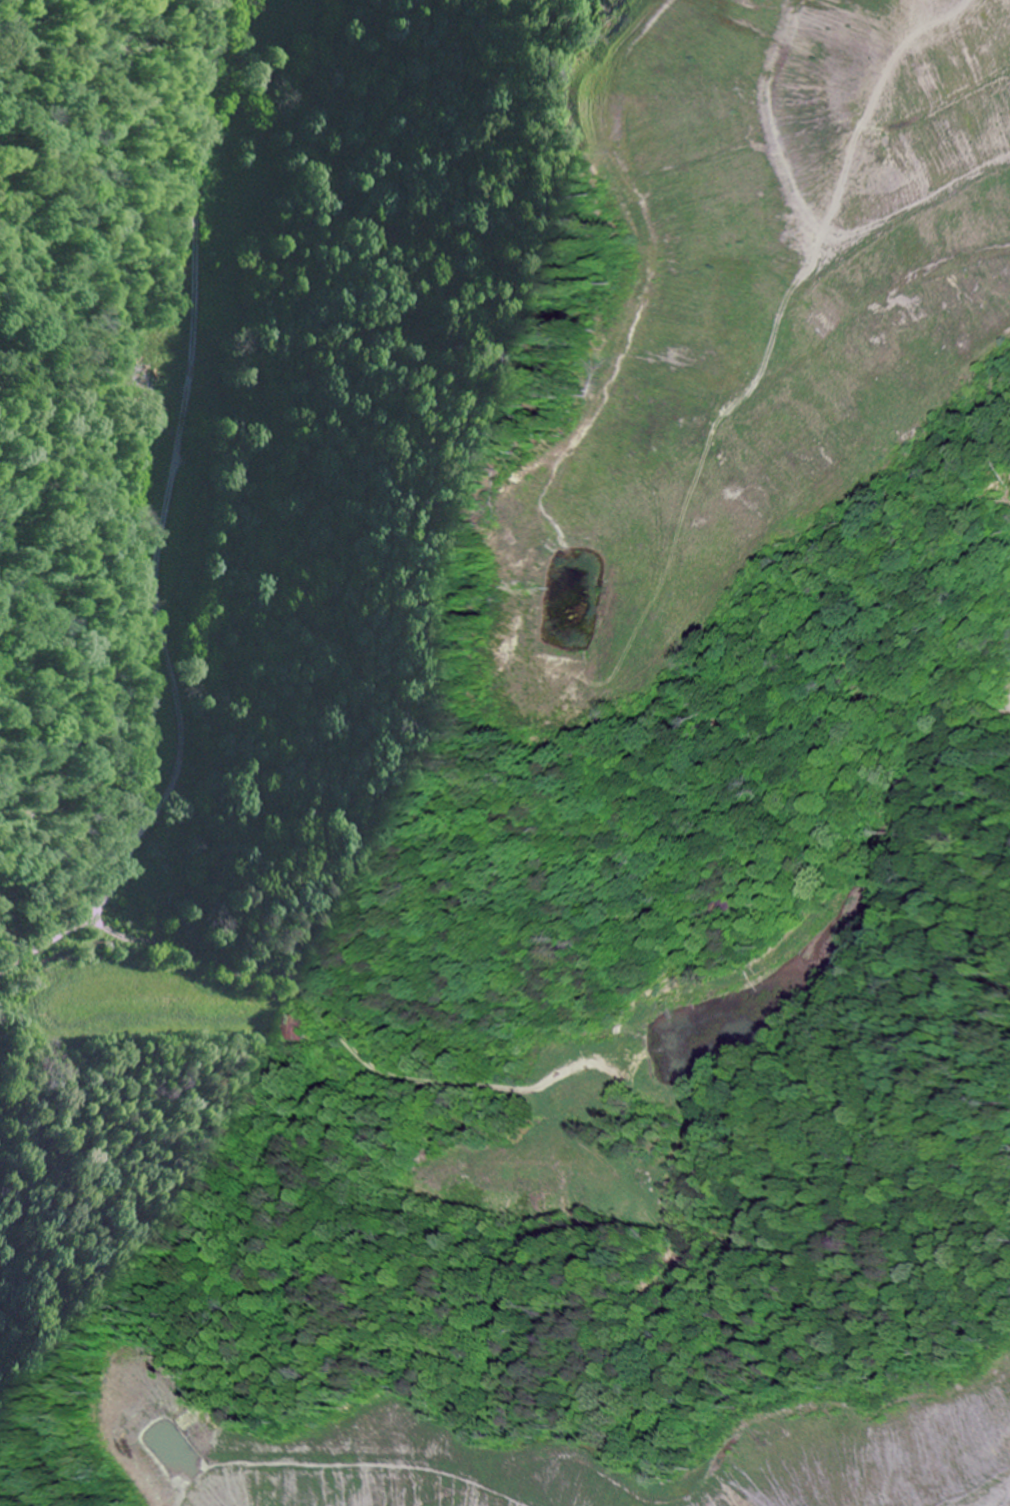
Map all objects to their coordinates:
road: (166, 528)
road: (206, 1059)

